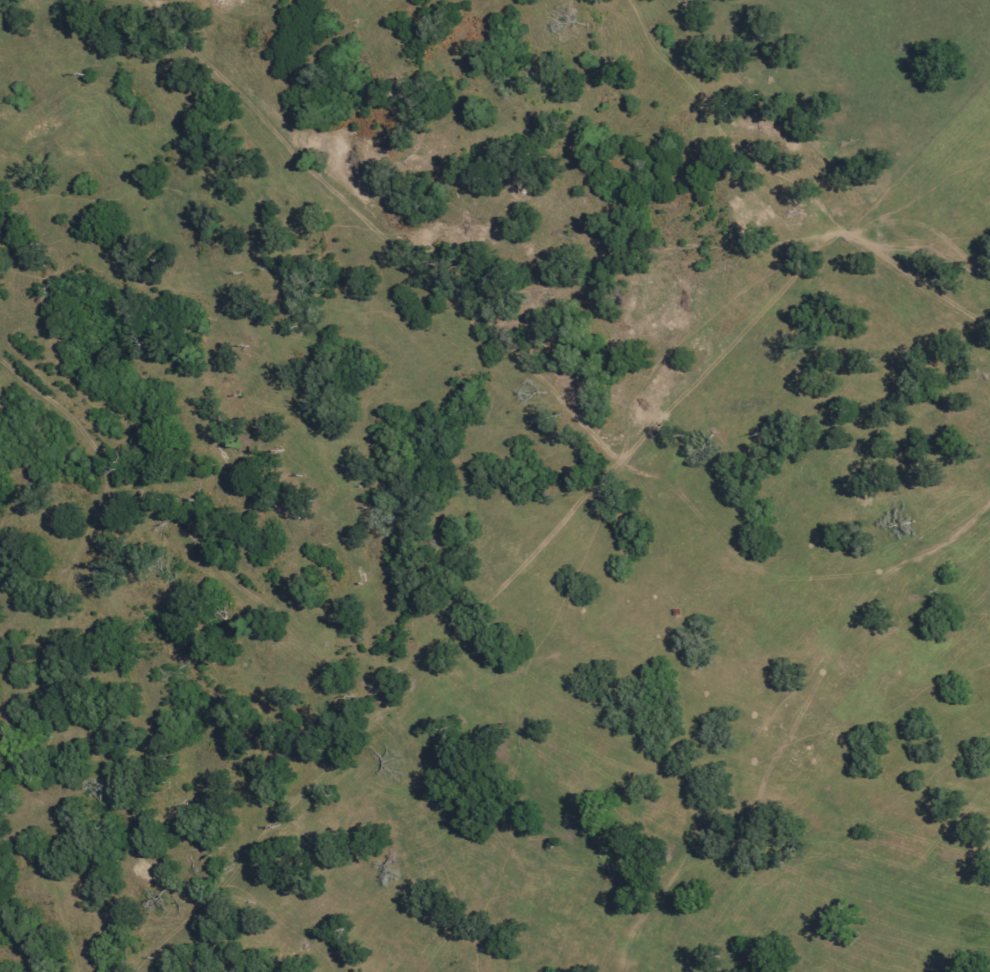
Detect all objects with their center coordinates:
road: (872, 490)

